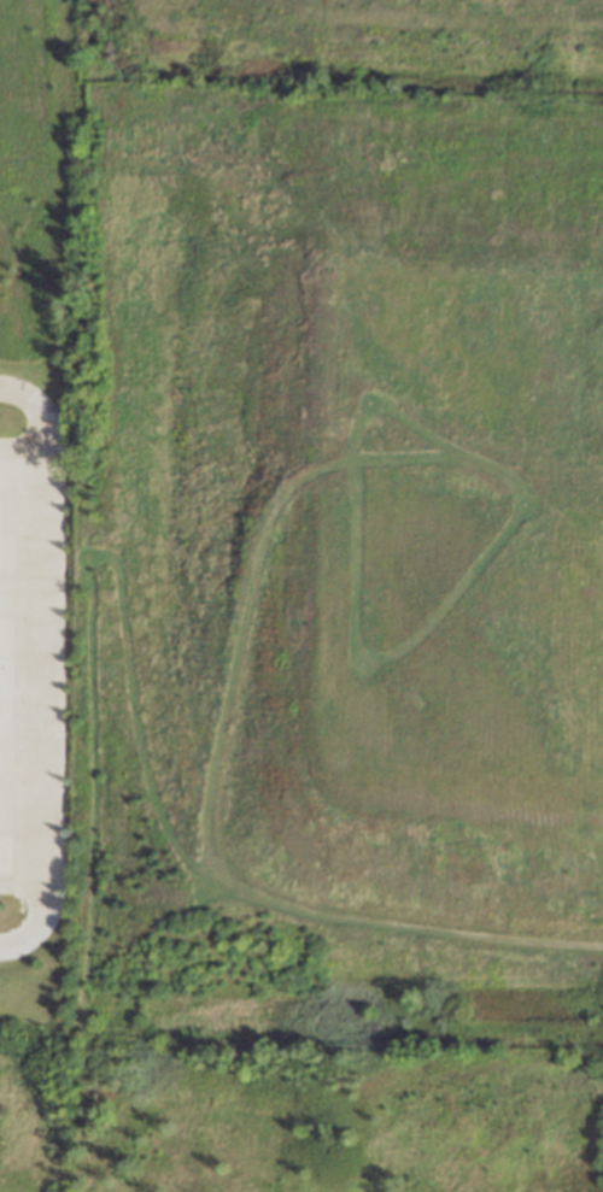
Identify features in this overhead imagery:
road: (40, 663)

